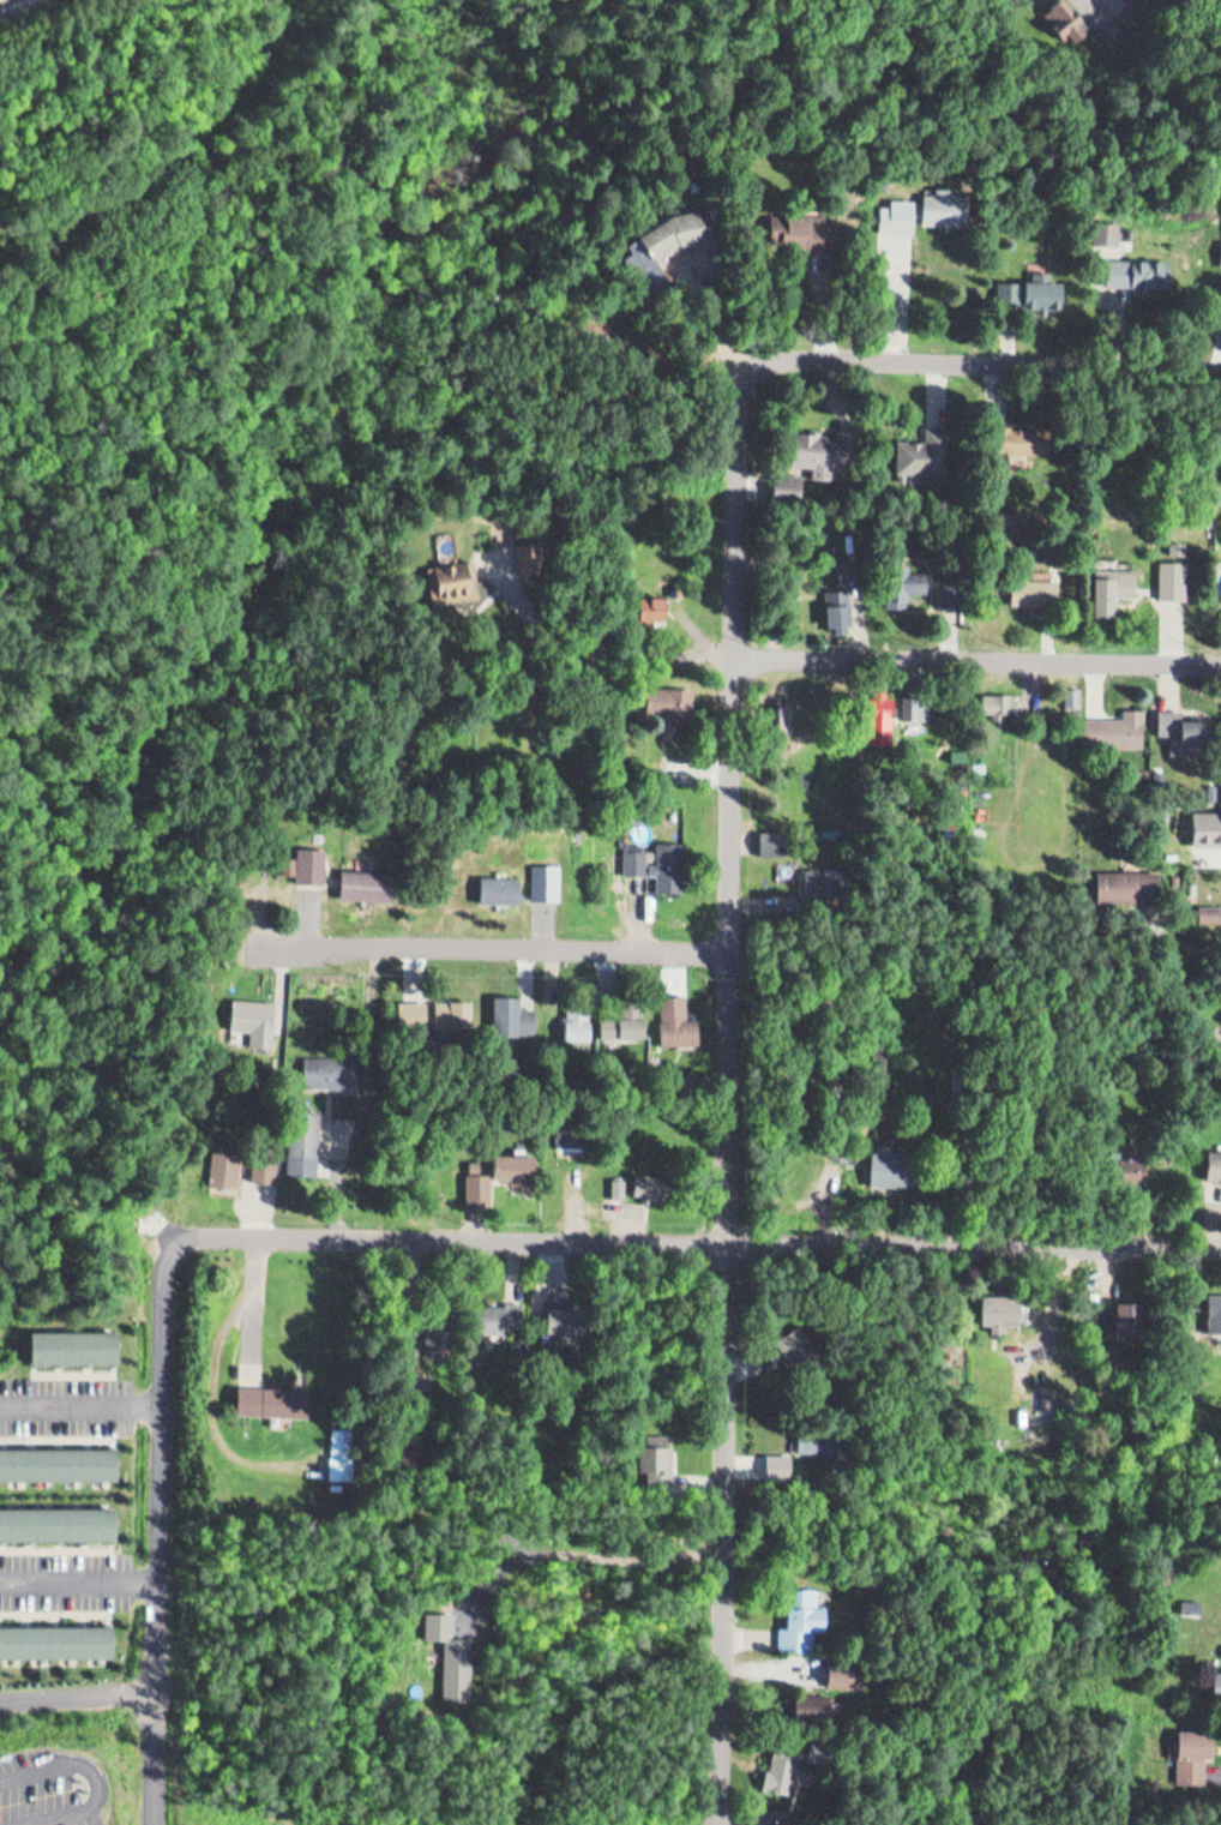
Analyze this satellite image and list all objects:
building: (1132, 5)
building: (1072, 16)
building: (1130, 16)
building: (937, 199)
building: (894, 209)
building: (800, 222)
building: (678, 223)
building: (1105, 226)
building: (1137, 264)
building: (1030, 284)
road: (987, 362)
building: (1019, 430)
building: (822, 443)
building: (926, 445)
building: (784, 475)
building: (523, 548)
building: (1181, 564)
building: (449, 575)
building: (1109, 576)
building: (904, 577)
building: (1034, 584)
building: (952, 590)
building: (651, 601)
building: (838, 602)
road: (792, 658)
building: (668, 697)
building: (1071, 698)
building: (994, 700)
building: (914, 709)
building: (778, 714)
building: (884, 715)
building: (1187, 720)
building: (1115, 724)
building: (673, 763)
building: (772, 835)
building: (637, 848)
building: (305, 858)
building: (669, 858)
building: (545, 874)
building: (819, 875)
building: (363, 877)
building: (1127, 877)
building: (498, 881)
building: (1209, 906)
road: (491, 943)
building: (249, 1007)
building: (411, 1007)
building: (452, 1011)
building: (511, 1011)
building: (572, 1013)
building: (675, 1016)
building: (613, 1021)
building: (886, 1047)
building: (330, 1063)
road: (733, 1088)
building: (569, 1127)
building: (301, 1134)
building: (888, 1159)
building: (1211, 1159)
building: (223, 1160)
building: (263, 1160)
building: (511, 1161)
building: (1124, 1163)
building: (634, 1176)
building: (476, 1179)
building: (645, 1184)
road: (732, 1239)
building: (998, 1301)
building: (1213, 1304)
building: (558, 1305)
building: (492, 1311)
building: (1123, 1316)
building: (428, 1322)
building: (788, 1340)
building: (71, 1341)
building: (272, 1392)
parking lot: (67, 1397)
road: (83, 1397)
building: (811, 1446)
building: (339, 1447)
building: (651, 1451)
building: (55, 1455)
road: (163, 1511)
building: (55, 1517)
road: (575, 1551)
parking lot: (68, 1569)
road: (80, 1572)
building: (1189, 1598)
building: (795, 1613)
building: (55, 1632)
building: (447, 1649)
building: (841, 1664)
building: (1215, 1675)
building: (841, 1679)
building: (1216, 1686)
building: (806, 1705)
building: (1191, 1749)
road: (157, 1755)
building: (781, 1766)

